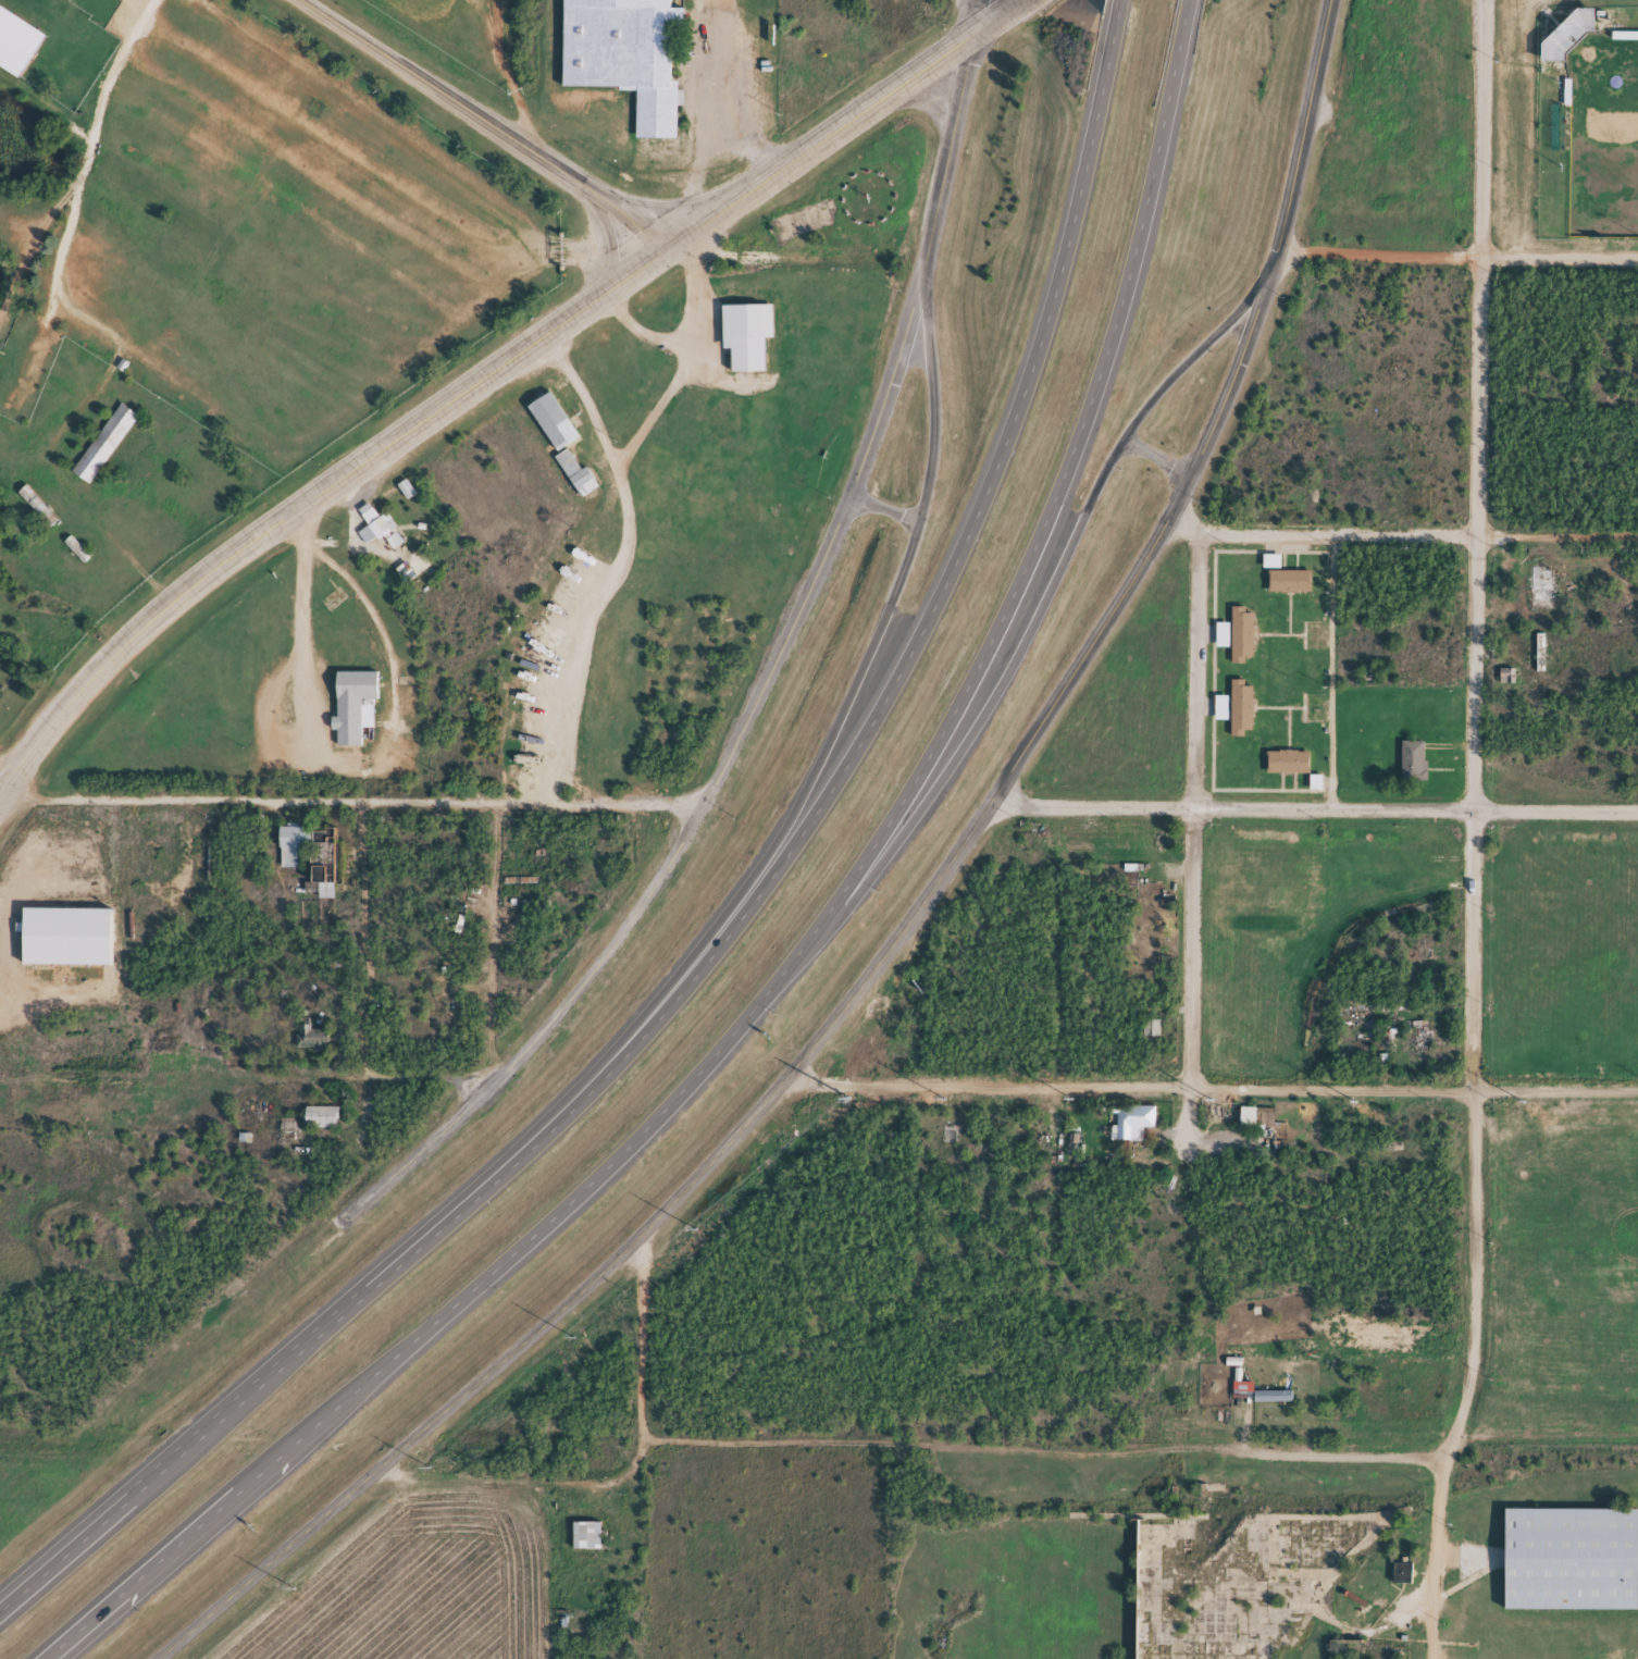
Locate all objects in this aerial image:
building: (75, 0)
road: (996, 16)
building: (1568, 42)
building: (16, 50)
building: (625, 60)
road: (922, 102)
road: (477, 121)
road: (953, 126)
road: (1482, 128)
road: (1300, 135)
park: (1603, 139)
road: (817, 143)
road: (91, 145)
road: (661, 211)
road: (611, 243)
road: (1379, 255)
road: (1560, 258)
building: (747, 343)
building: (554, 430)
building: (104, 451)
road: (1155, 458)
building: (576, 482)
building: (406, 497)
road: (310, 498)
road: (882, 510)
building: (36, 512)
building: (379, 536)
road: (1401, 536)
building: (1273, 569)
building: (405, 580)
building: (1290, 590)
building: (1542, 595)
road: (1027, 627)
building: (1223, 643)
building: (1242, 643)
road: (870, 646)
road: (1331, 671)
building: (353, 714)
building: (1221, 716)
building: (1241, 717)
building: (1288, 770)
building: (1413, 770)
road: (2, 780)
road: (710, 789)
building: (1316, 791)
road: (351, 802)
road: (1312, 808)
road: (1195, 840)
building: (293, 852)
building: (323, 878)
road: (737, 925)
road: (363, 942)
building: (67, 945)
road: (797, 950)
road: (1474, 961)
road: (812, 1043)
building: (310, 1047)
road: (246, 1079)
road: (1213, 1084)
building: (322, 1125)
building: (1256, 1125)
building: (1132, 1130)
building: (1273, 1404)
railway: (819, 1440)
building: (587, 1544)
building: (1572, 1567)
building: (1402, 1581)

